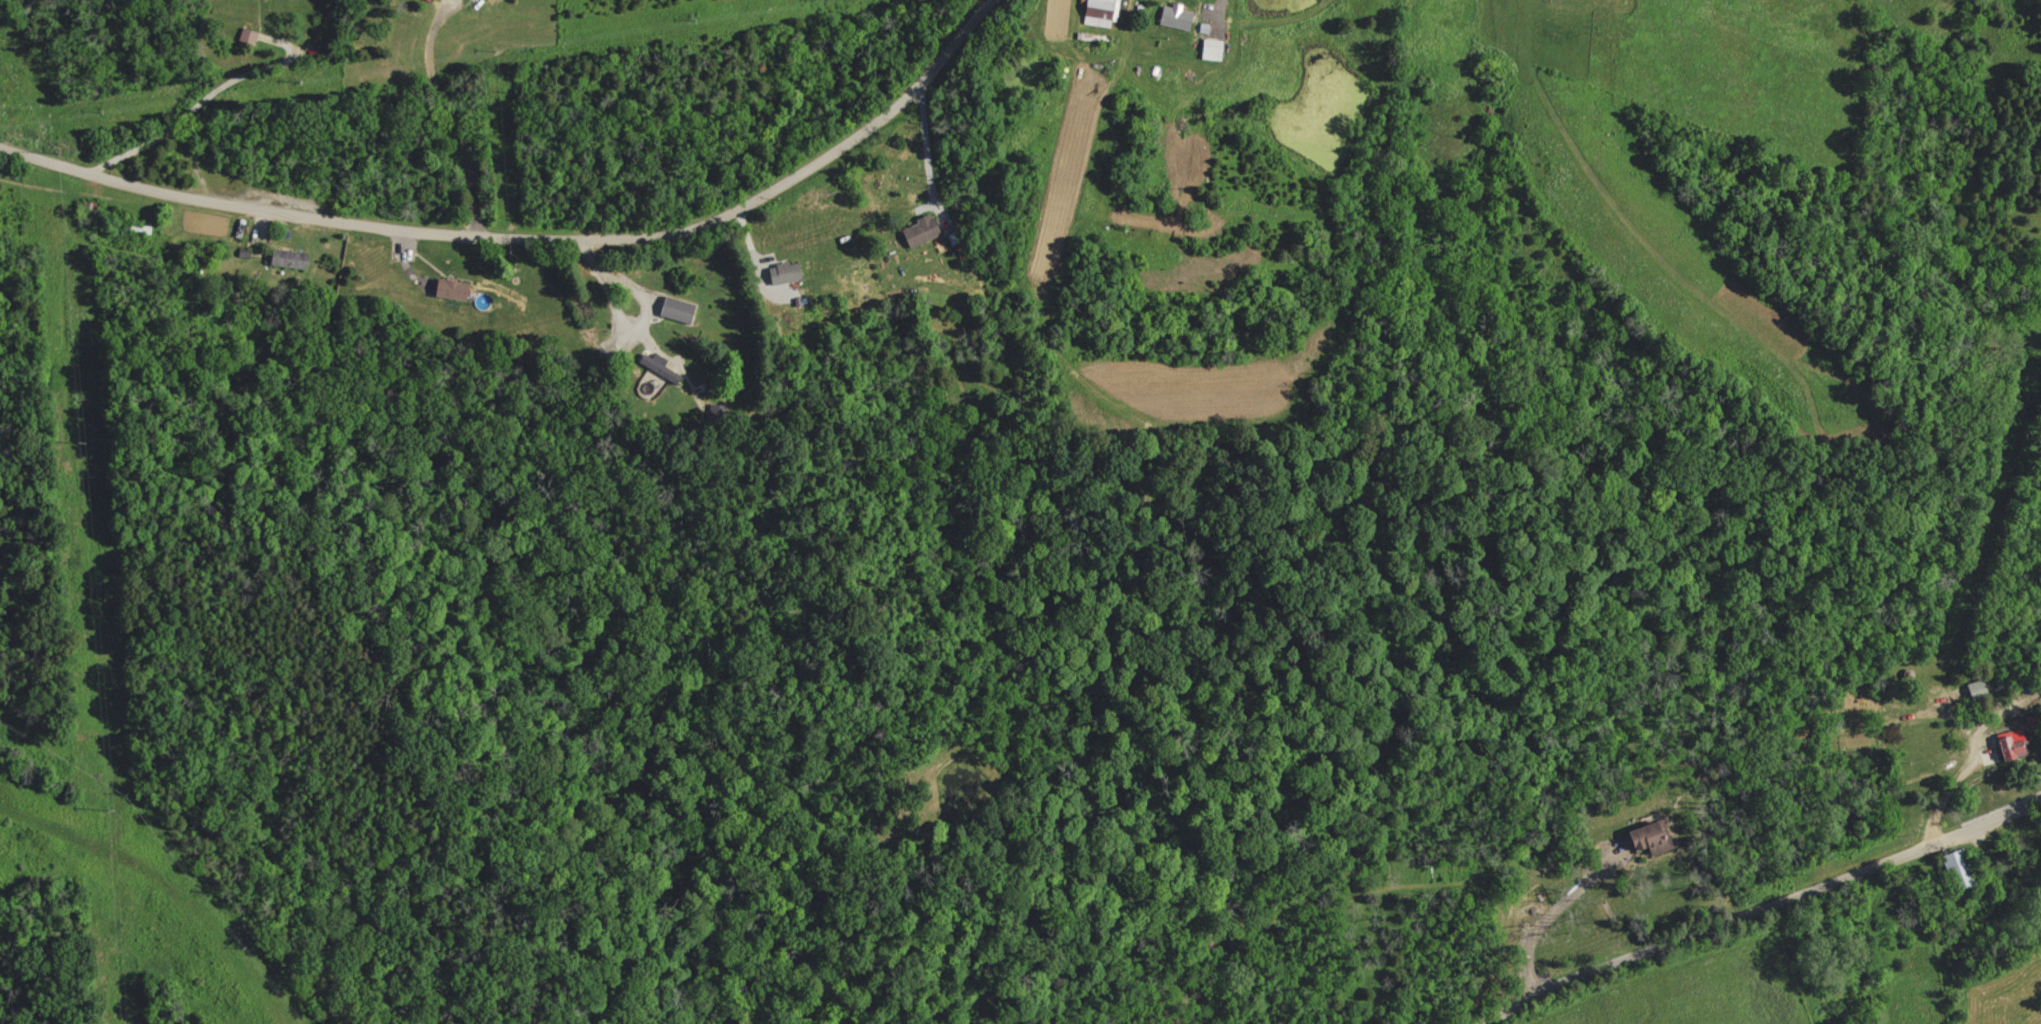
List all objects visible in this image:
road: (1216, 10)
building: (1099, 12)
building: (1174, 17)
building: (252, 36)
building: (1209, 49)
road: (445, 118)
road: (174, 120)
road: (927, 156)
building: (918, 231)
road: (533, 237)
building: (295, 259)
building: (791, 273)
building: (457, 290)
road: (608, 290)
building: (1976, 690)
building: (2007, 744)
building: (1644, 838)
building: (1951, 870)
road: (1759, 900)
road: (1541, 922)

